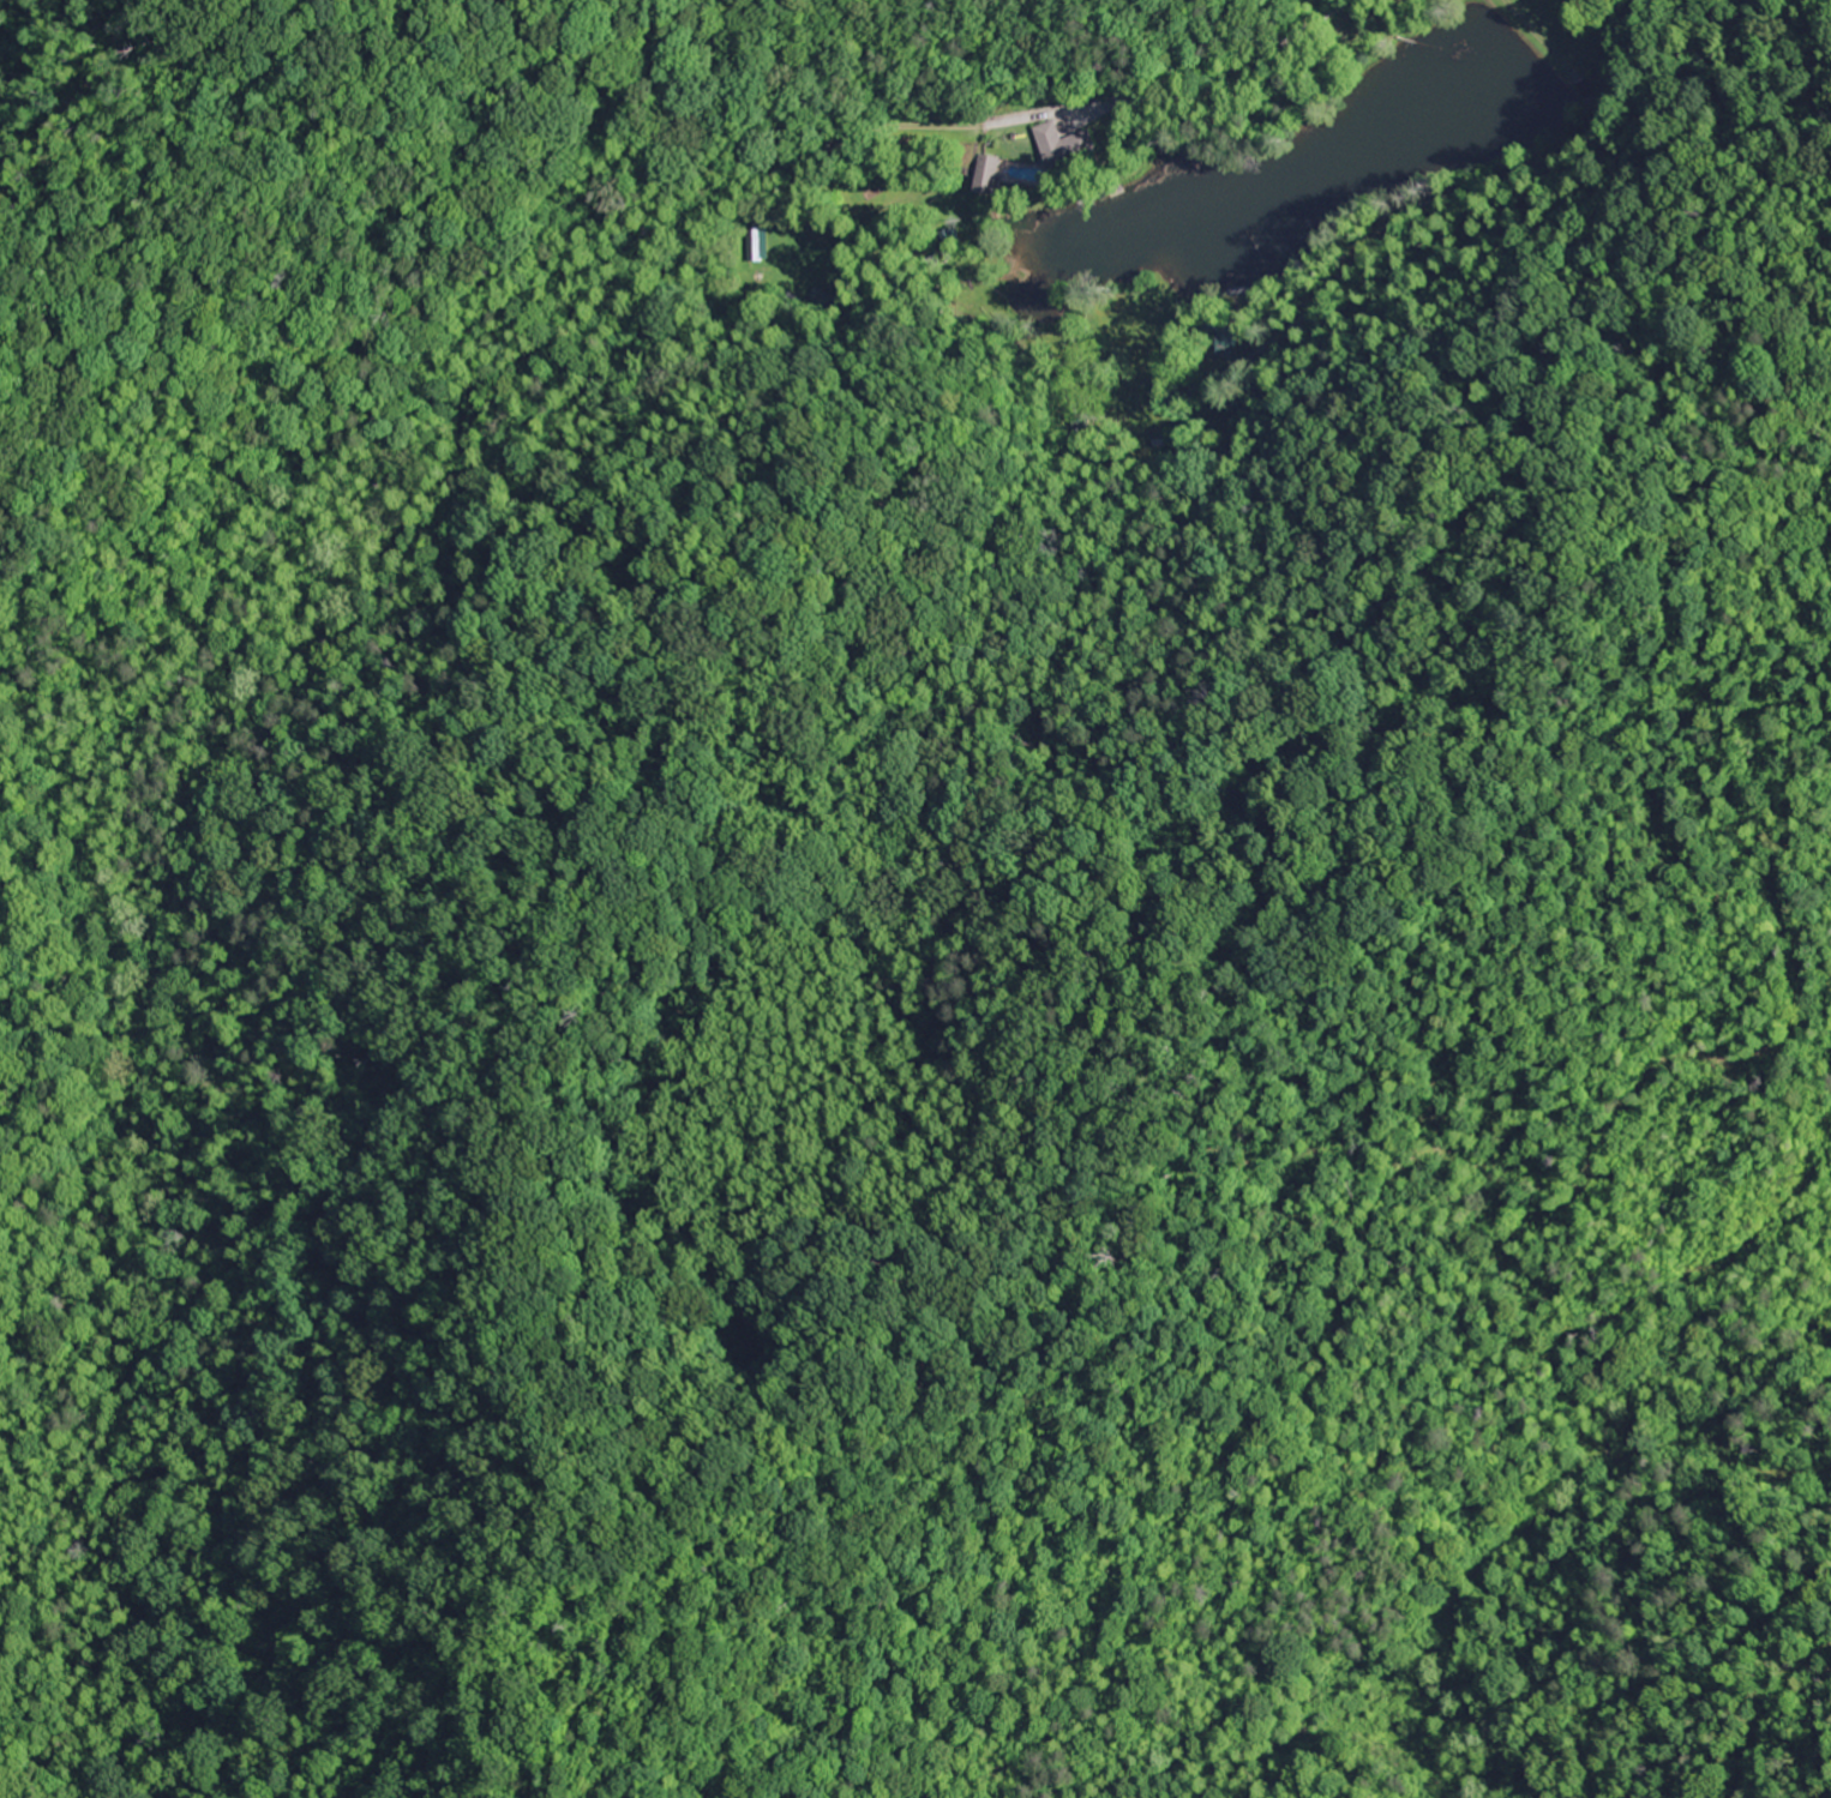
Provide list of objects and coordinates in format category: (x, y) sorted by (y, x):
building: (1067, 145)
building: (986, 175)
building: (757, 242)
road: (968, 320)

